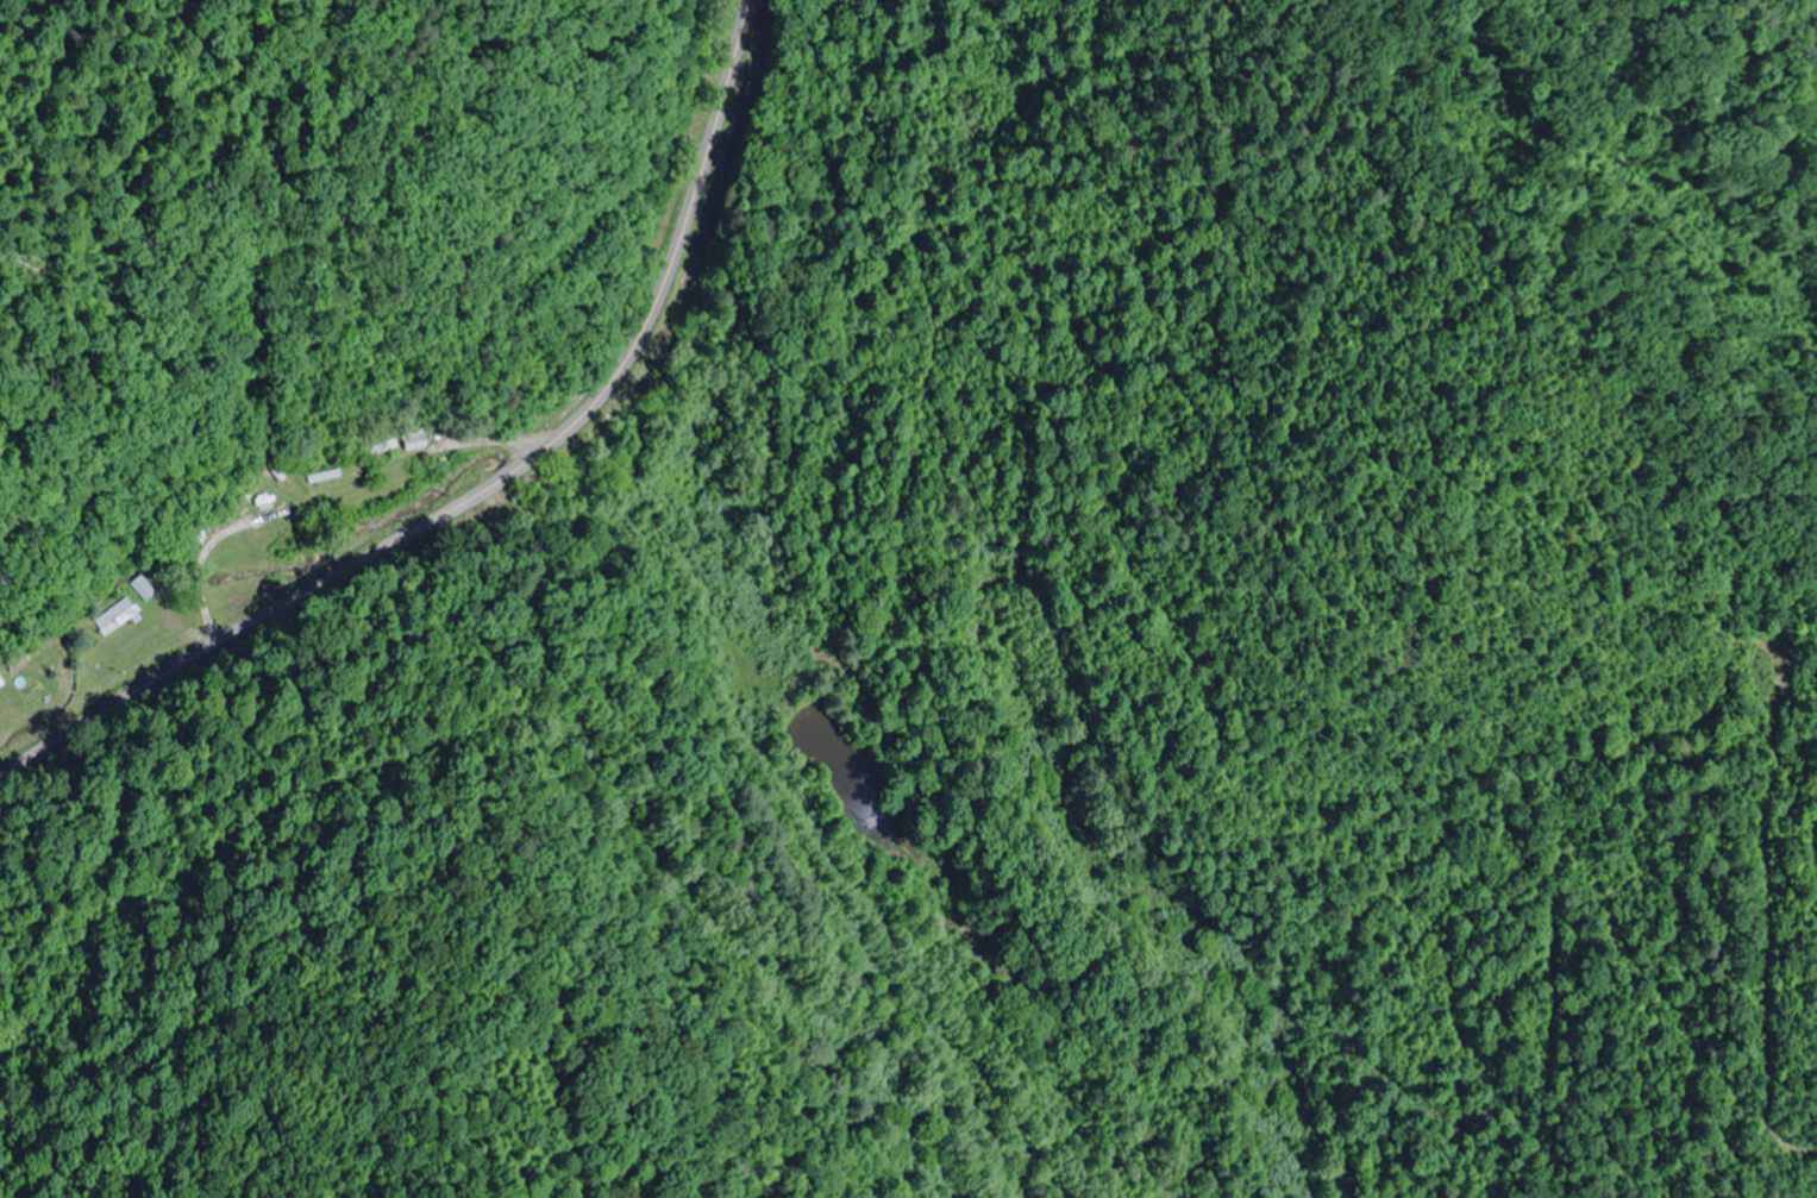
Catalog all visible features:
building: (419, 441)
road: (489, 488)
building: (274, 507)
building: (145, 589)
building: (119, 617)

